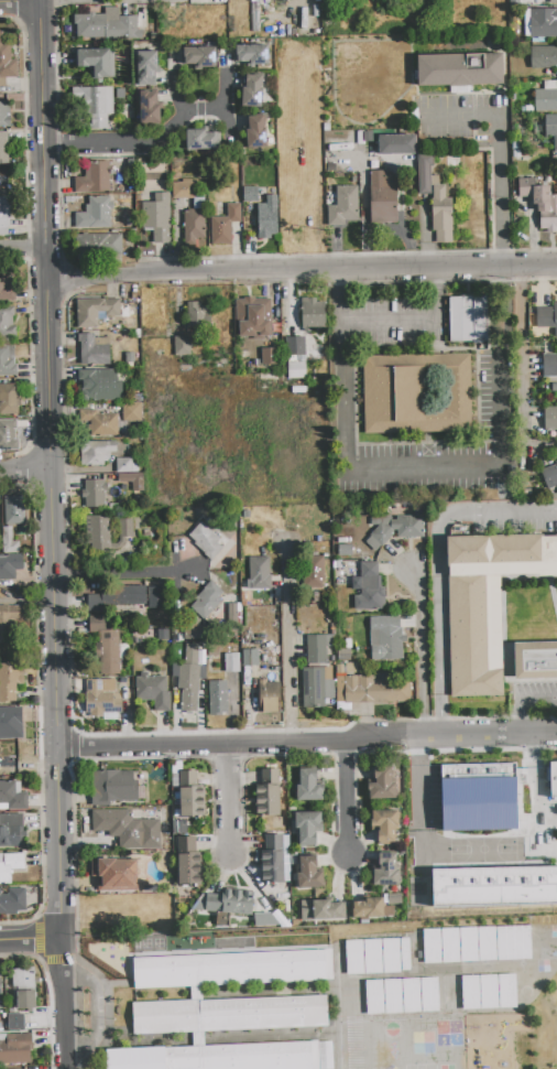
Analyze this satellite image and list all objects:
road: (80, 1)
building: (553, 1)
road: (20, 2)
building: (543, 23)
building: (89, 26)
building: (122, 29)
building: (153, 36)
building: (252, 54)
building: (199, 57)
building: (543, 57)
building: (6, 62)
building: (97, 62)
building: (148, 67)
building: (459, 68)
building: (124, 72)
park: (371, 84)
building: (252, 91)
road: (174, 93)
building: (546, 97)
road: (223, 104)
building: (97, 106)
building: (297, 106)
building: (150, 108)
building: (4, 114)
building: (326, 127)
building: (551, 128)
building: (256, 131)
building: (363, 138)
building: (203, 140)
road: (141, 143)
building: (396, 144)
building: (517, 145)
building: (3, 148)
building: (372, 151)
road: (500, 153)
building: (520, 153)
building: (527, 153)
building: (452, 161)
building: (131, 164)
building: (331, 165)
building: (309, 168)
building: (426, 174)
building: (1, 175)
building: (94, 179)
building: (185, 188)
building: (250, 194)
building: (382, 198)
building: (540, 203)
building: (198, 204)
building: (341, 205)
building: (302, 208)
building: (95, 213)
building: (441, 214)
building: (4, 215)
building: (267, 215)
building: (157, 217)
building: (225, 225)
building: (194, 227)
building: (98, 245)
road: (22, 249)
road: (302, 272)
building: (8, 285)
building: (95, 311)
building: (197, 314)
building: (313, 314)
building: (546, 316)
building: (253, 317)
building: (467, 318)
road: (391, 320)
building: (7, 322)
parking lot: (401, 322)
building: (182, 346)
building: (92, 350)
building: (269, 356)
building: (296, 357)
building: (8, 361)
road: (522, 363)
building: (549, 365)
road: (345, 370)
building: (100, 386)
building: (414, 392)
building: (10, 399)
building: (131, 411)
building: (550, 418)
building: (100, 423)
building: (8, 435)
crop: (229, 435)
parking lot: (448, 442)
building: (96, 453)
building: (127, 465)
road: (484, 466)
road: (53, 467)
road: (26, 468)
building: (550, 476)
building: (132, 480)
building: (94, 494)
building: (13, 509)
road: (500, 514)
building: (394, 529)
building: (106, 532)
building: (8, 539)
building: (206, 541)
building: (345, 550)
building: (10, 565)
road: (129, 566)
building: (313, 571)
building: (259, 573)
building: (369, 589)
building: (155, 596)
building: (118, 597)
building: (207, 600)
building: (487, 605)
building: (232, 615)
building: (97, 623)
road: (438, 625)
building: (2, 630)
building: (387, 640)
road: (285, 643)
building: (318, 648)
building: (108, 651)
road: (425, 652)
building: (194, 655)
building: (343, 656)
building: (250, 658)
building: (536, 662)
building: (232, 663)
building: (190, 671)
building: (10, 680)
building: (317, 687)
building: (376, 688)
building: (152, 691)
building: (188, 694)
building: (269, 697)
building: (102, 698)
building: (218, 698)
road: (520, 698)
building: (11, 736)
road: (308, 742)
building: (554, 781)
building: (382, 785)
building: (309, 786)
building: (436, 786)
building: (112, 787)
building: (267, 793)
building: (503, 793)
building: (190, 795)
building: (12, 796)
road: (233, 798)
road: (349, 799)
building: (413, 807)
building: (430, 807)
building: (127, 825)
building: (385, 825)
building: (307, 828)
building: (11, 830)
building: (272, 860)
building: (188, 862)
building: (10, 865)
building: (386, 871)
building: (116, 874)
building: (309, 874)
building: (494, 886)
building: (12, 901)
building: (226, 905)
building: (372, 908)
building: (321, 910)
road: (32, 938)
building: (477, 946)
building: (376, 958)
building: (232, 970)
building: (1, 989)
building: (24, 989)
building: (489, 992)
building: (403, 997)
road: (65, 1002)
road: (98, 1014)
building: (229, 1016)
building: (15, 1022)
building: (15, 1049)
building: (242, 1057)
building: (136, 1058)

